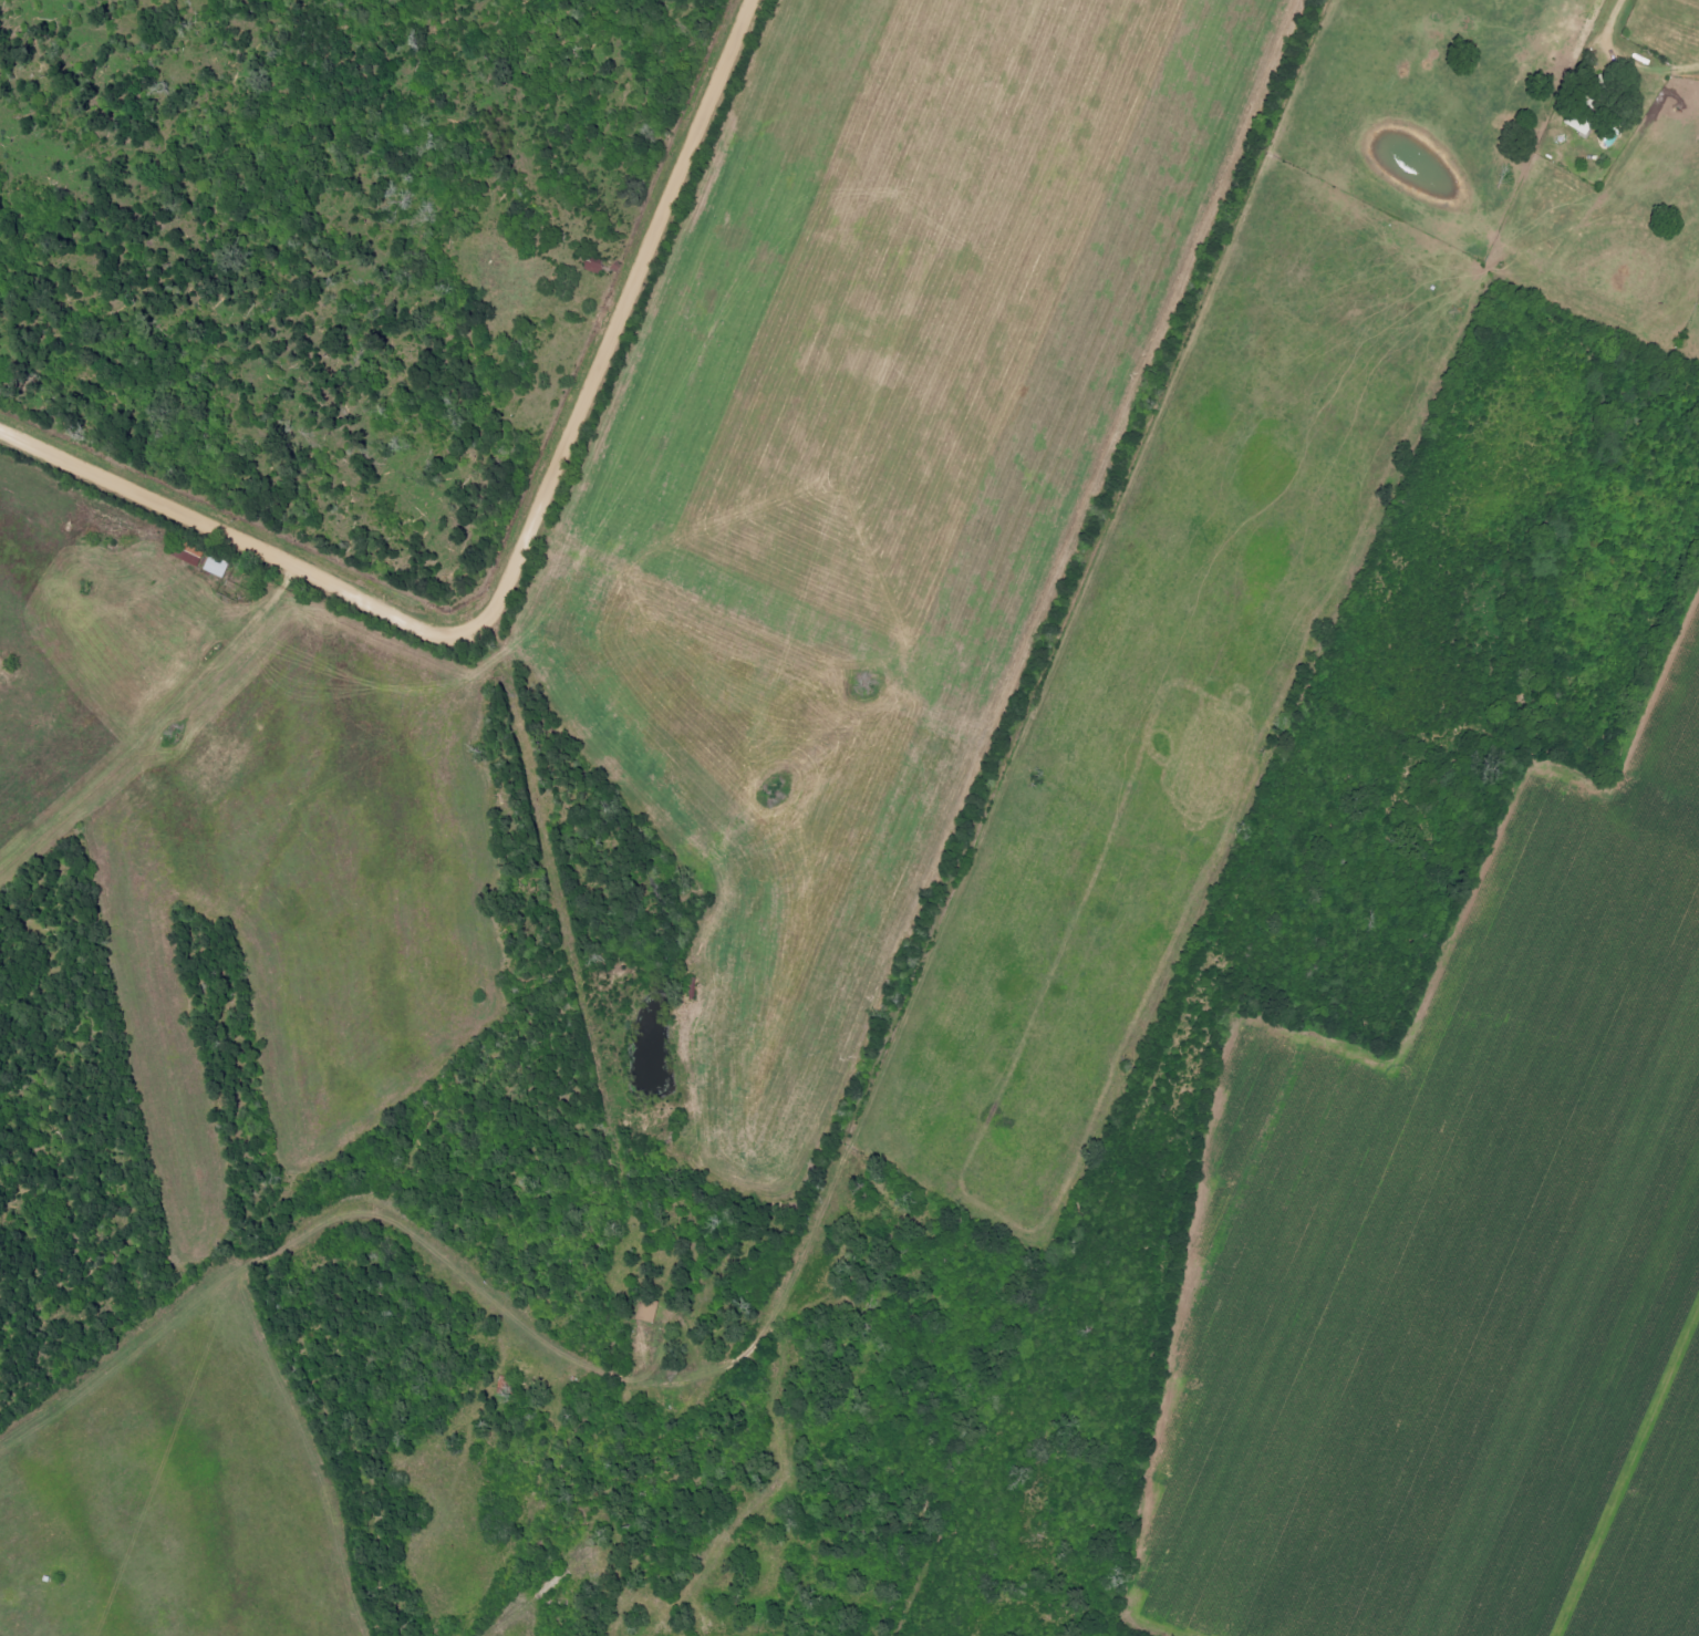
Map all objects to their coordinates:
road: (1606, 29)
building: (1583, 123)
road: (522, 557)
building: (218, 567)
road: (197, 765)

